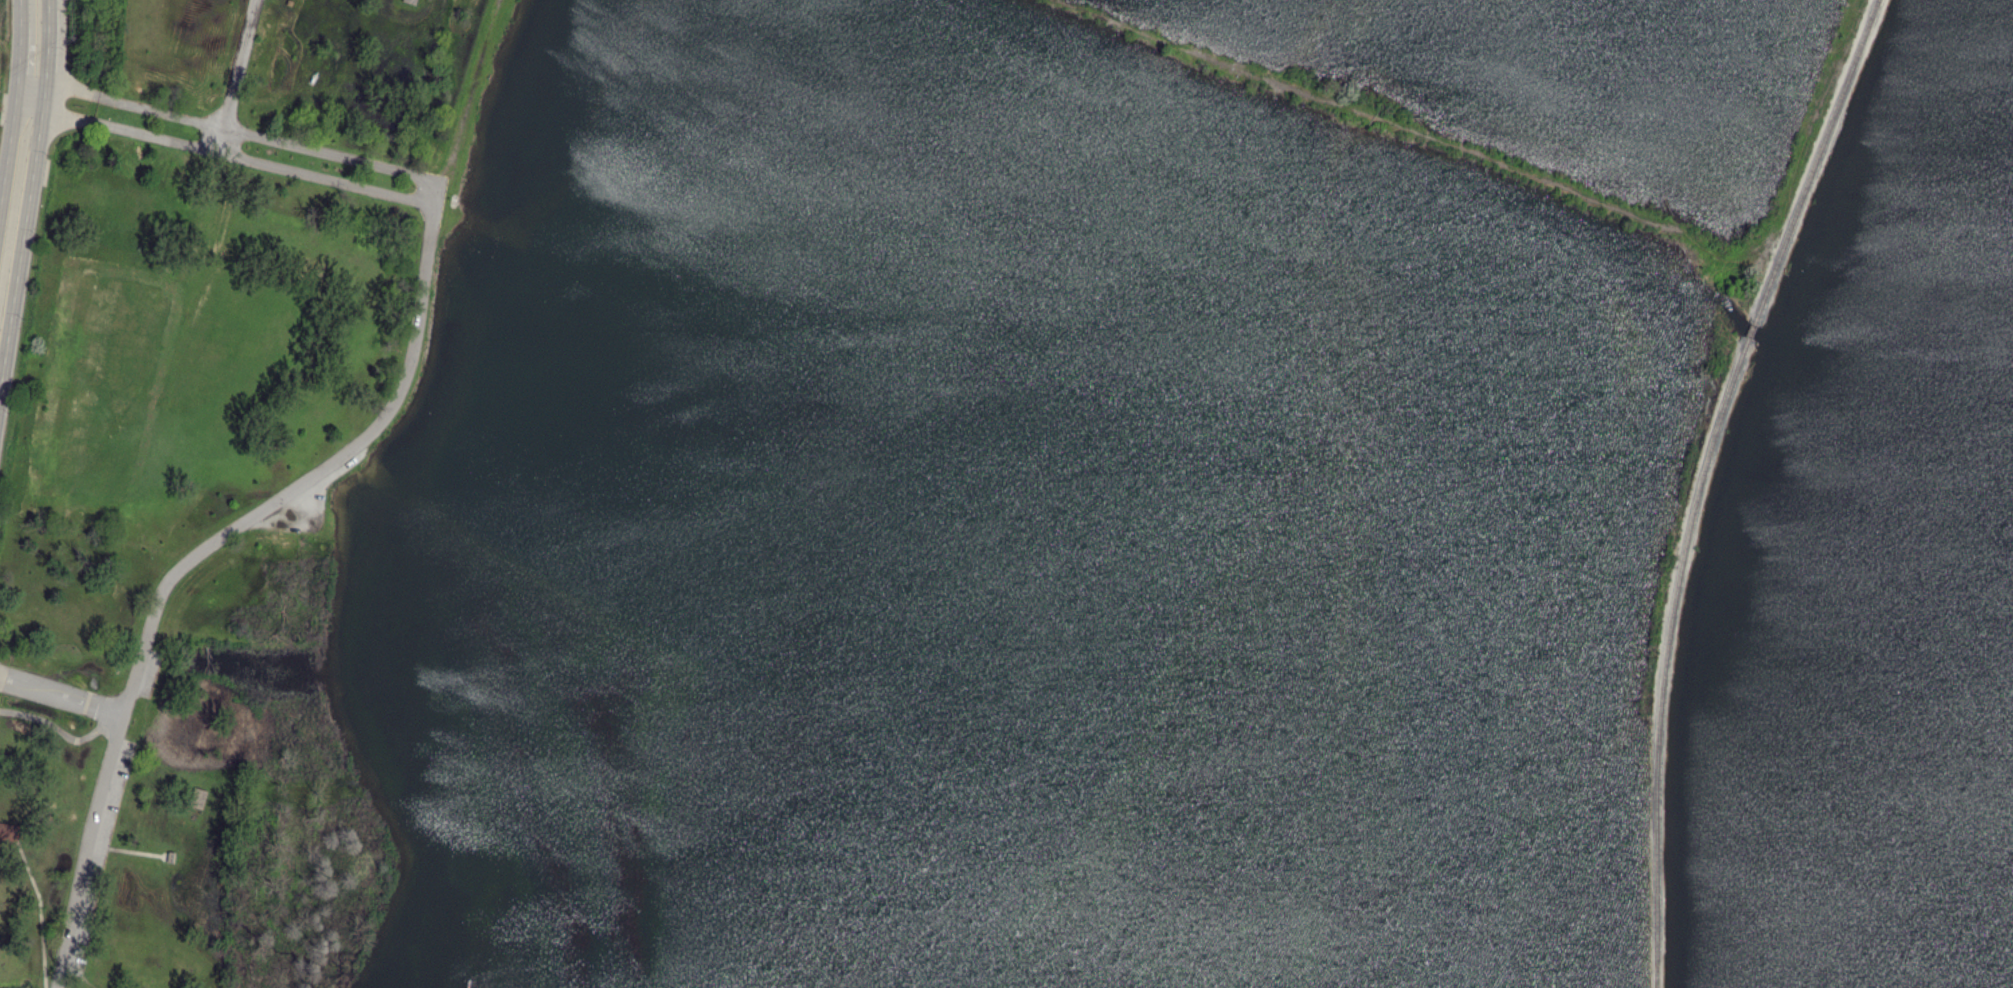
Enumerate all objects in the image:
building: (411, 1)
road: (238, 76)
road: (129, 103)
road: (123, 128)
road: (1405, 129)
road: (23, 150)
road: (337, 155)
railway: (1816, 160)
road: (324, 178)
railway: (1752, 330)
park: (1015, 496)
road: (193, 556)
railway: (1666, 657)
road: (61, 696)
road: (60, 728)
building: (197, 800)
building: (7, 833)
road: (128, 851)
building: (170, 859)
road: (40, 912)

